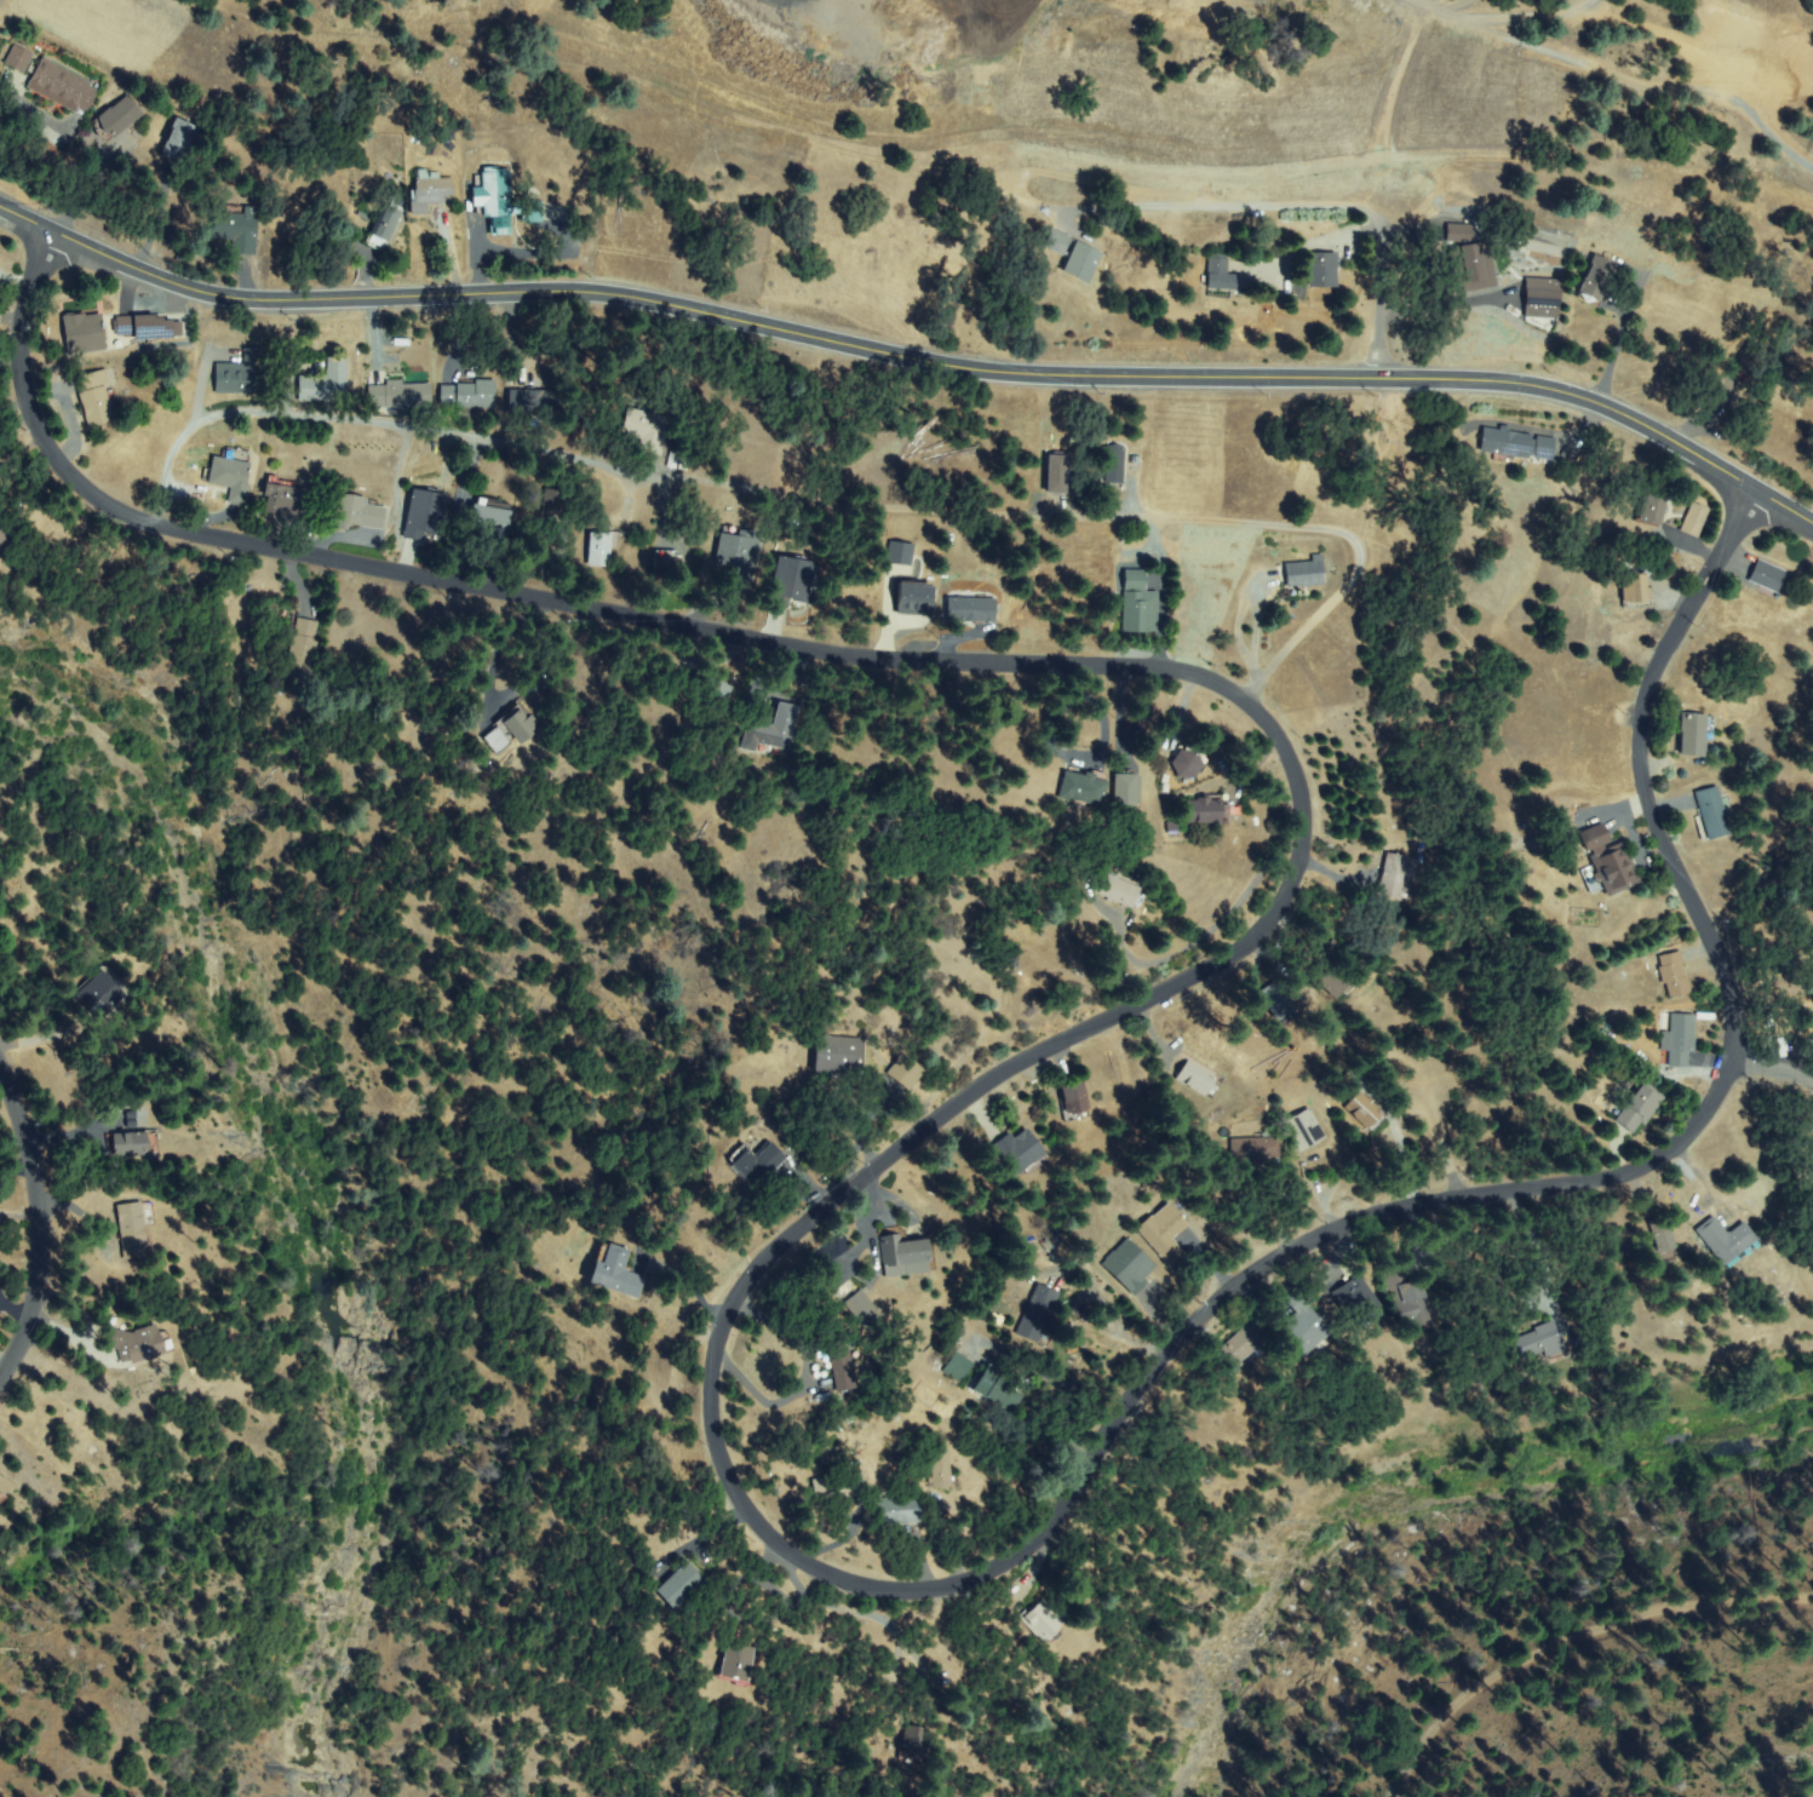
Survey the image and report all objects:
road: (1419, 5)
road: (1434, 5)
building: (19, 58)
building: (63, 86)
road: (1387, 111)
building: (117, 119)
building: (180, 142)
building: (429, 190)
building: (501, 201)
building: (386, 223)
building: (237, 230)
building: (1457, 231)
building: (1056, 241)
building: (1080, 262)
building: (1468, 266)
building: (1320, 270)
building: (1220, 274)
building: (1596, 281)
building: (1539, 297)
building: (145, 327)
building: (85, 333)
road: (911, 360)
building: (1751, 360)
building: (242, 373)
building: (327, 383)
building: (396, 395)
building: (465, 395)
building: (94, 400)
building: (534, 402)
building: (647, 427)
building: (1516, 443)
building: (1135, 459)
building: (1115, 463)
building: (1058, 473)
building: (231, 477)
building: (289, 500)
building: (555, 501)
building: (1653, 504)
building: (360, 512)
building: (426, 513)
building: (1693, 518)
building: (1677, 519)
building: (492, 522)
building: (6, 536)
building: (601, 549)
building: (736, 555)
building: (666, 563)
building: (1304, 574)
building: (1767, 575)
building: (1134, 580)
building: (791, 581)
building: (1635, 589)
building: (914, 599)
building: (970, 609)
building: (1140, 613)
building: (300, 649)
building: (711, 689)
building: (511, 729)
building: (771, 729)
building: (1694, 734)
building: (1187, 762)
building: (1084, 786)
building: (1126, 792)
building: (1205, 810)
building: (1712, 814)
building: (1587, 838)
building: (1610, 862)
building: (1393, 877)
building: (1115, 889)
building: (1333, 949)
building: (1673, 975)
building: (1333, 982)
building: (102, 994)
building: (1279, 1004)
building: (1784, 1022)
building: (1681, 1041)
building: (842, 1056)
road: (1773, 1069)
building: (908, 1072)
building: (1195, 1078)
building: (1356, 1079)
building: (1074, 1102)
building: (1639, 1108)
building: (1365, 1109)
building: (1353, 1110)
building: (1624, 1110)
building: (1304, 1131)
building: (134, 1144)
building: (1812, 1144)
building: (1253, 1150)
building: (1020, 1153)
building: (757, 1162)
road: (850, 1189)
road: (41, 1222)
building: (133, 1229)
building: (1165, 1233)
building: (1662, 1234)
building: (1725, 1241)
building: (907, 1256)
building: (1130, 1264)
building: (616, 1273)
building: (1407, 1298)
building: (1358, 1302)
building: (862, 1309)
building: (1038, 1313)
building: (1307, 1330)
building: (1537, 1342)
building: (140, 1343)
building: (1241, 1347)
building: (834, 1353)
building: (957, 1366)
building: (997, 1382)
building: (941, 1465)
building: (4, 1486)
building: (838, 1488)
building: (899, 1511)
building: (679, 1584)
building: (1043, 1618)
road: (1572, 1642)
building: (738, 1663)
building: (913, 1743)

